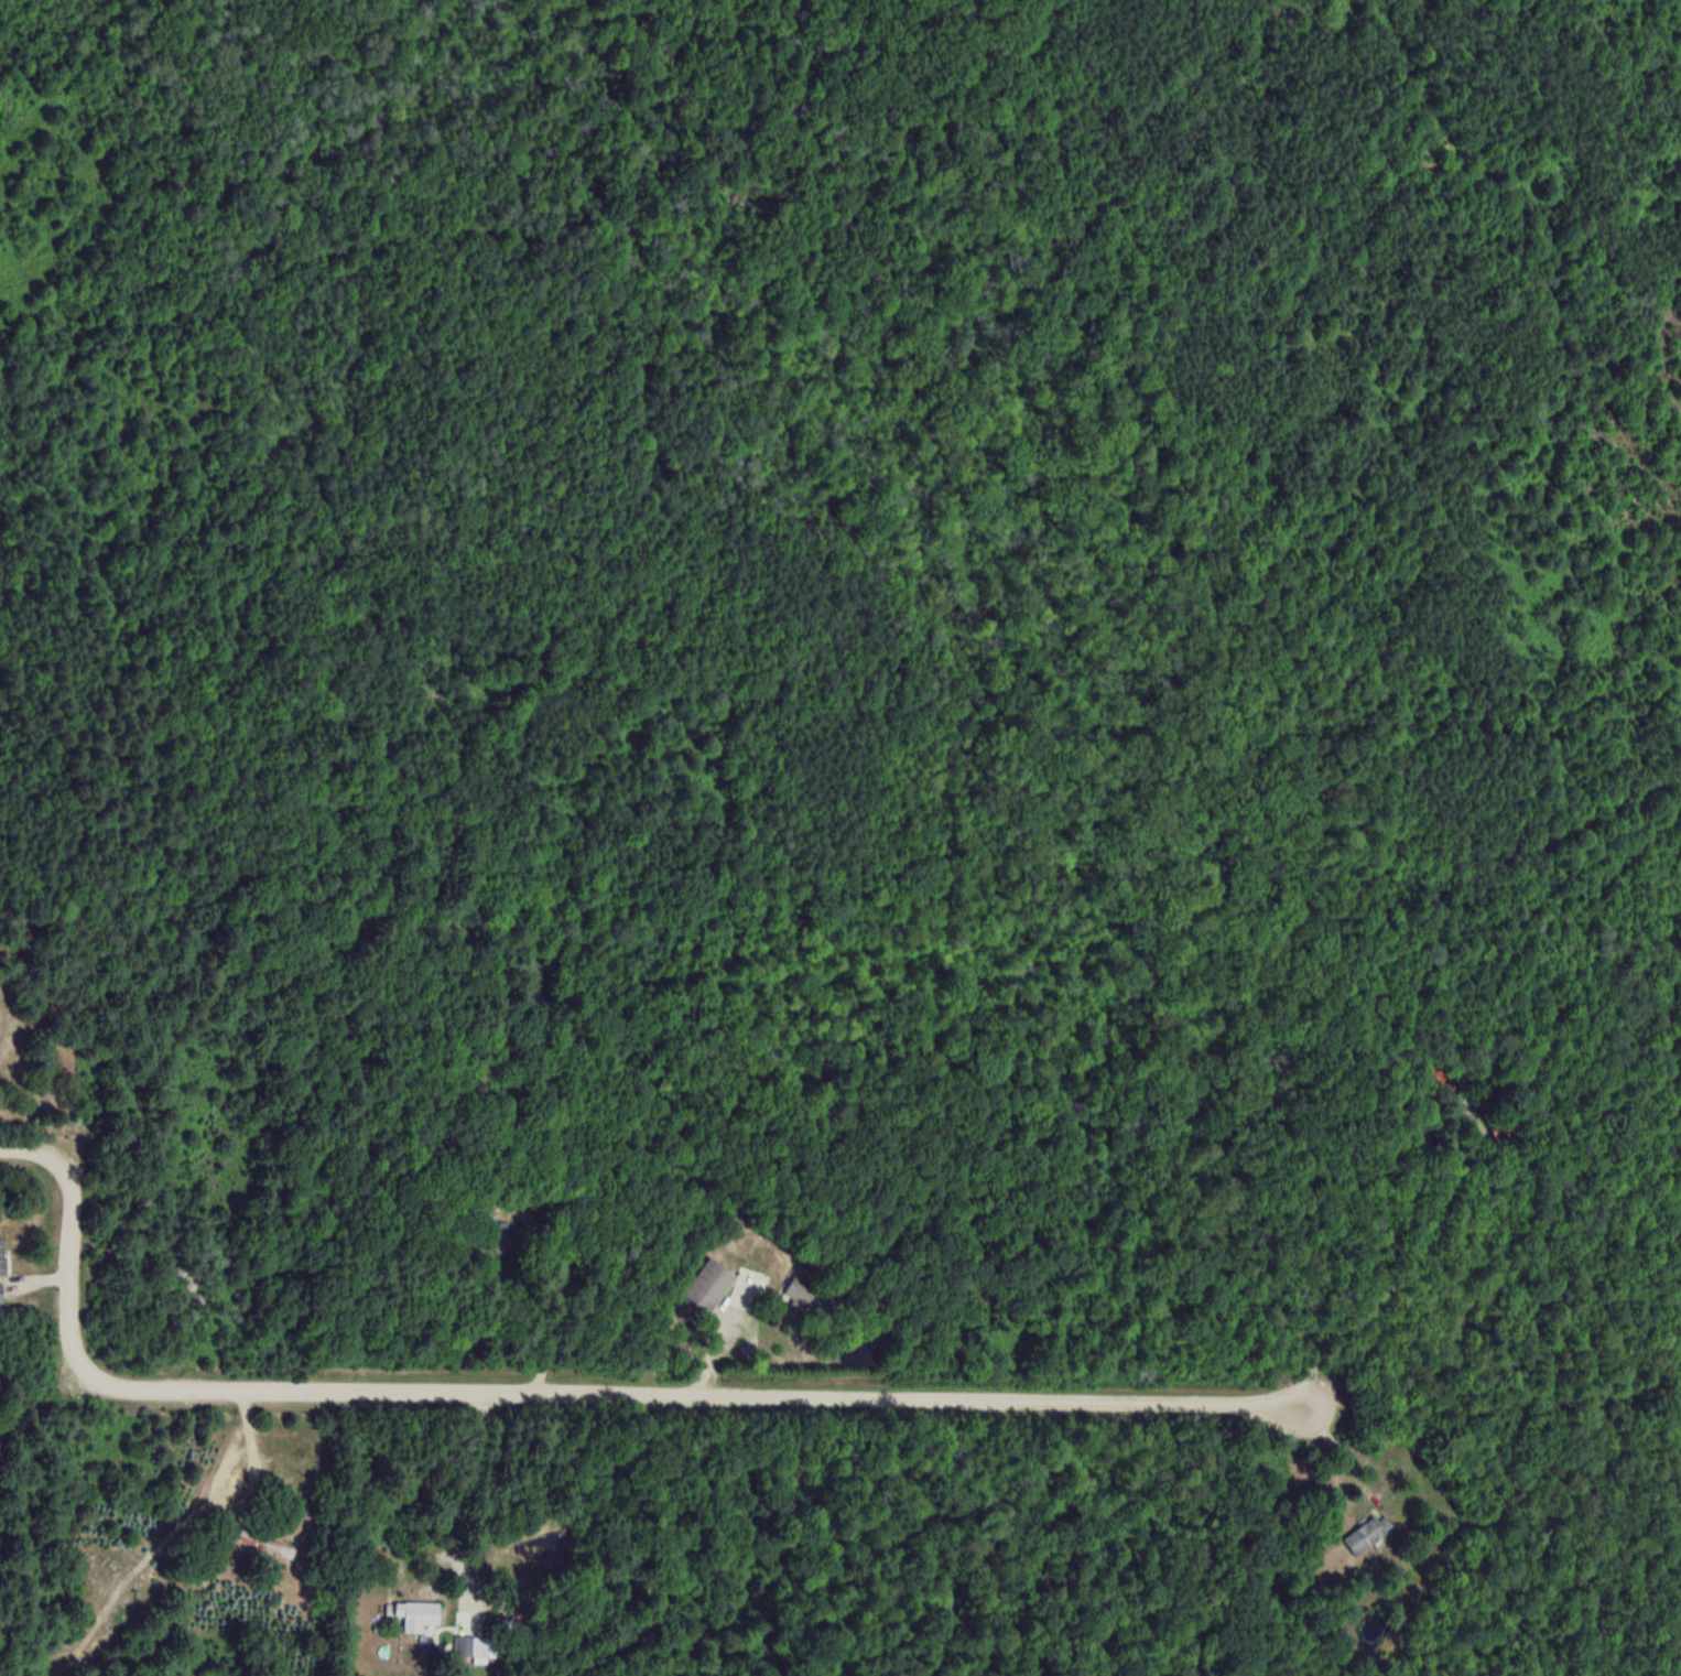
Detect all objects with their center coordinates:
building: (1, 1256)
building: (708, 1284)
building: (1, 1293)
road: (564, 1394)
building: (221, 1464)
road: (460, 1504)
building: (1368, 1533)
building: (264, 1543)
building: (416, 1613)
building: (469, 1645)

